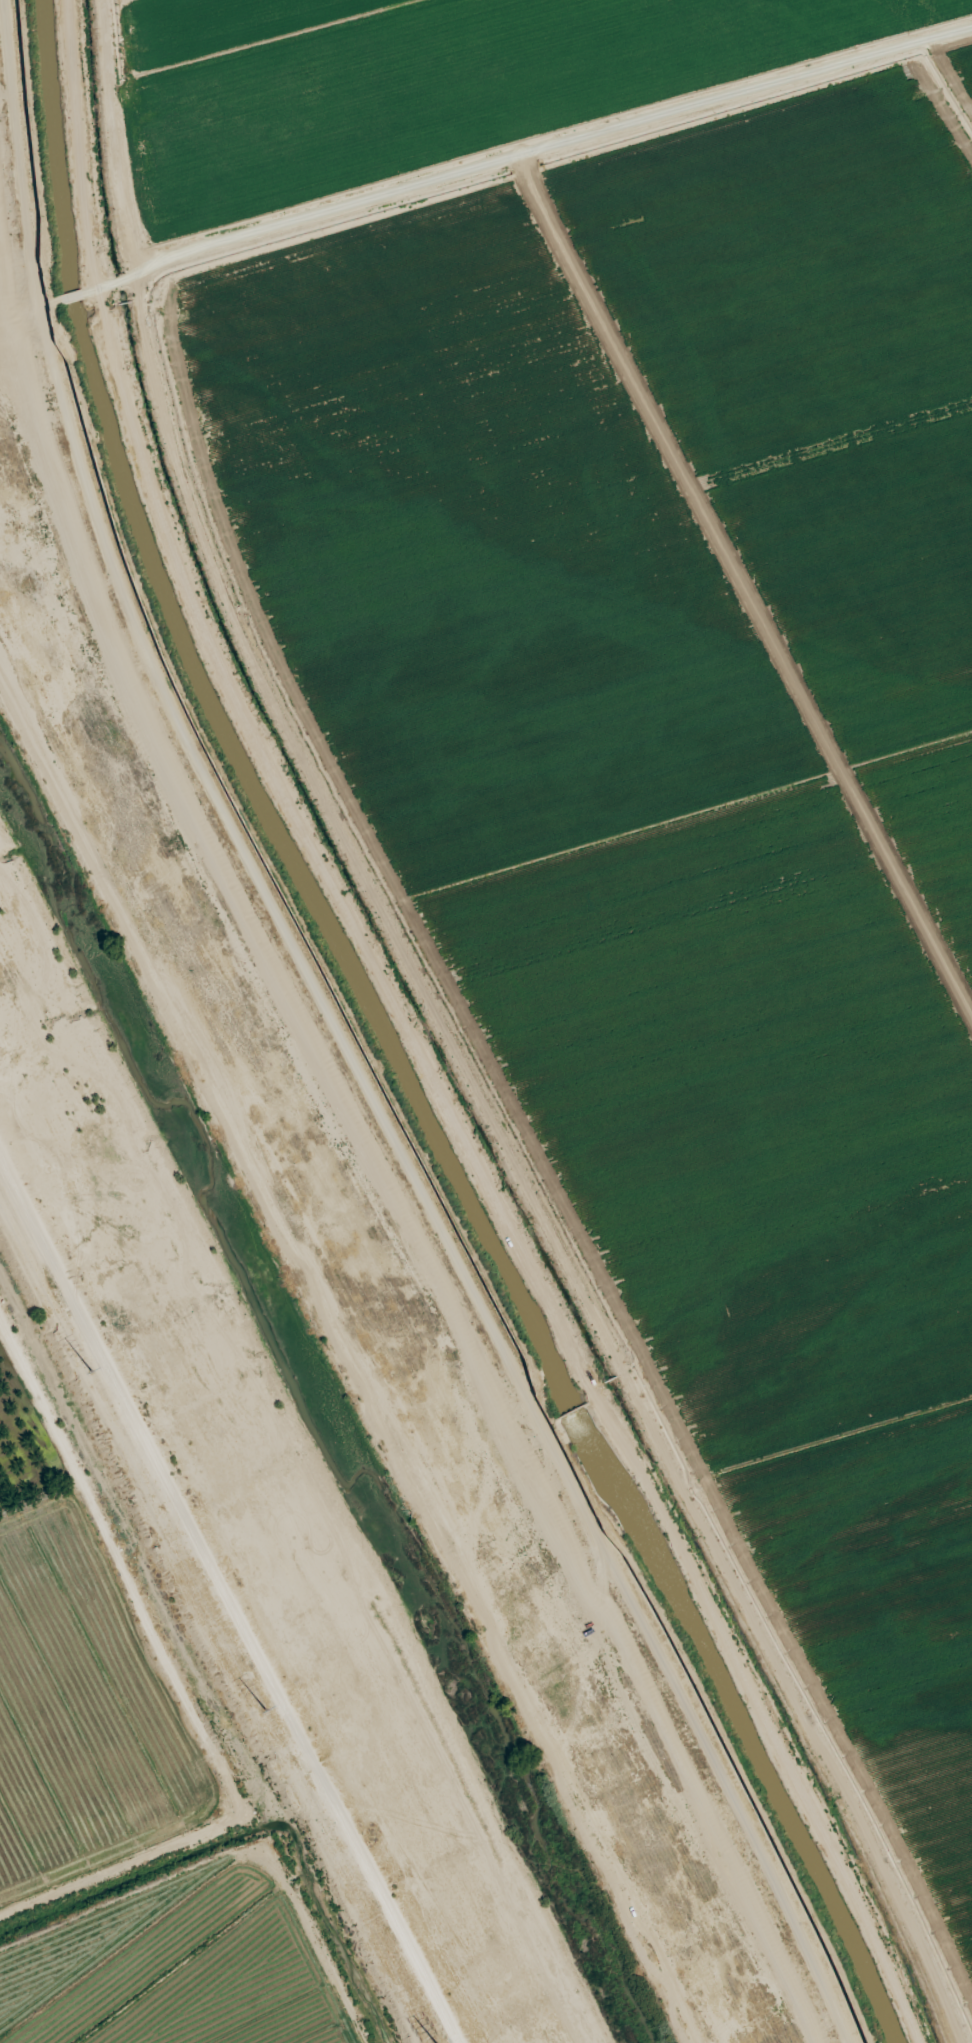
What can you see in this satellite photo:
power tower: (83, 1371)
river: (323, 1402)
power tower: (259, 1710)

